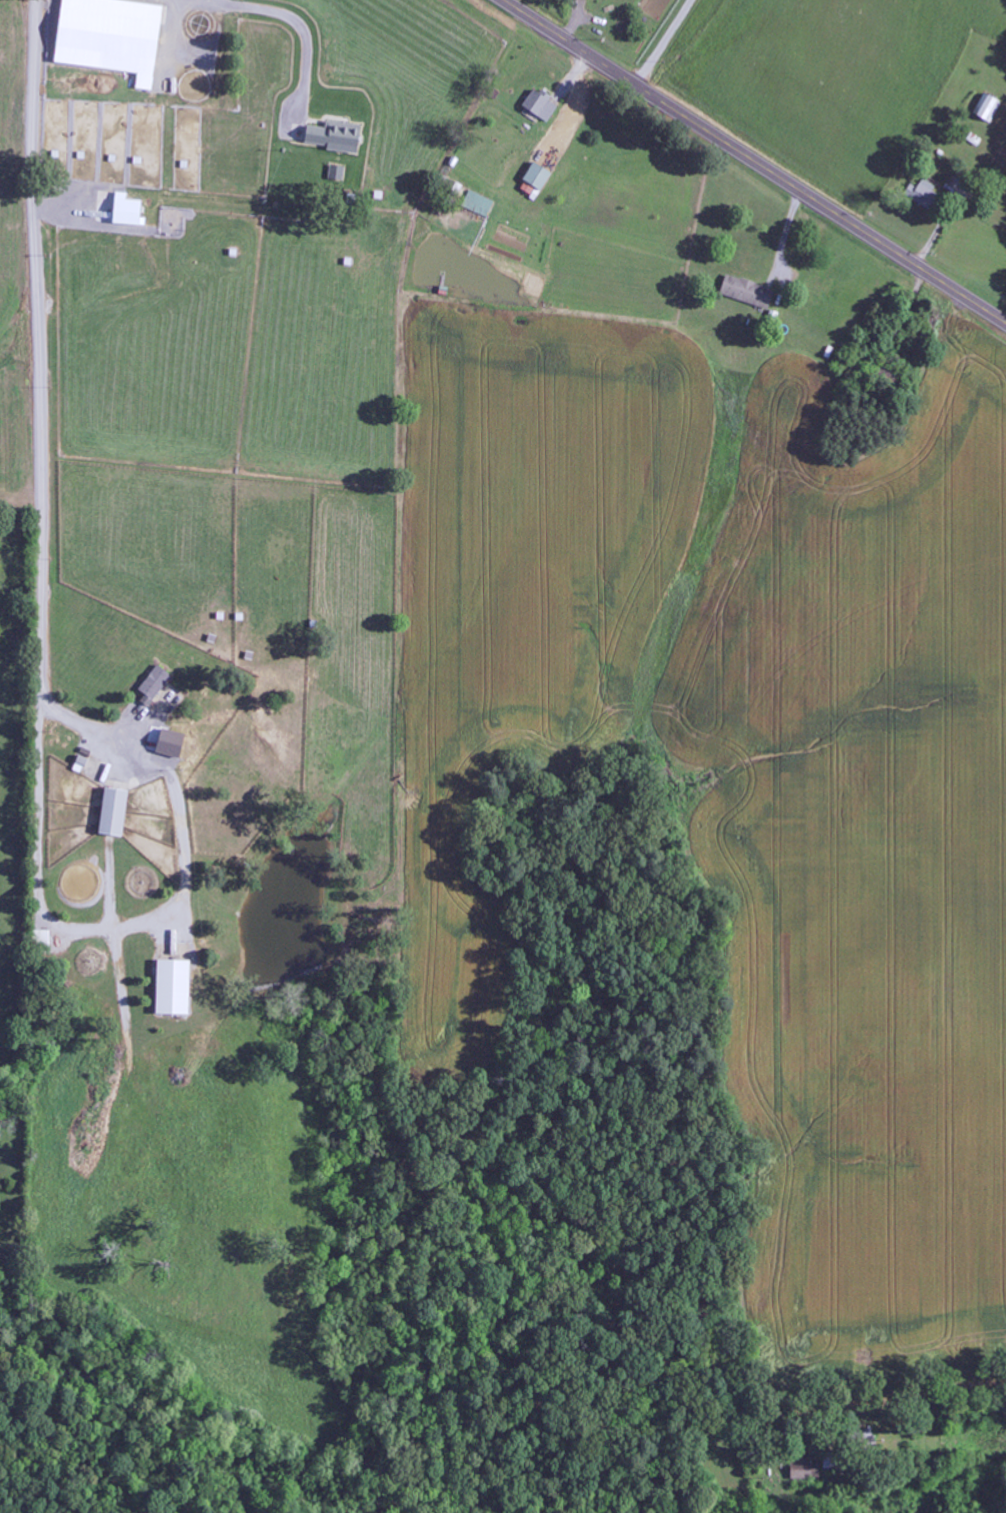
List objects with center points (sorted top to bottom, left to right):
building: (114, 37)
road: (676, 45)
building: (542, 106)
building: (989, 107)
building: (338, 137)
road: (755, 160)
building: (539, 177)
building: (924, 195)
building: (479, 204)
building: (130, 211)
building: (749, 292)
road: (39, 457)
building: (156, 684)
building: (175, 744)
building: (117, 812)
building: (43, 936)
building: (177, 987)
road: (907, 1394)
building: (805, 1469)

